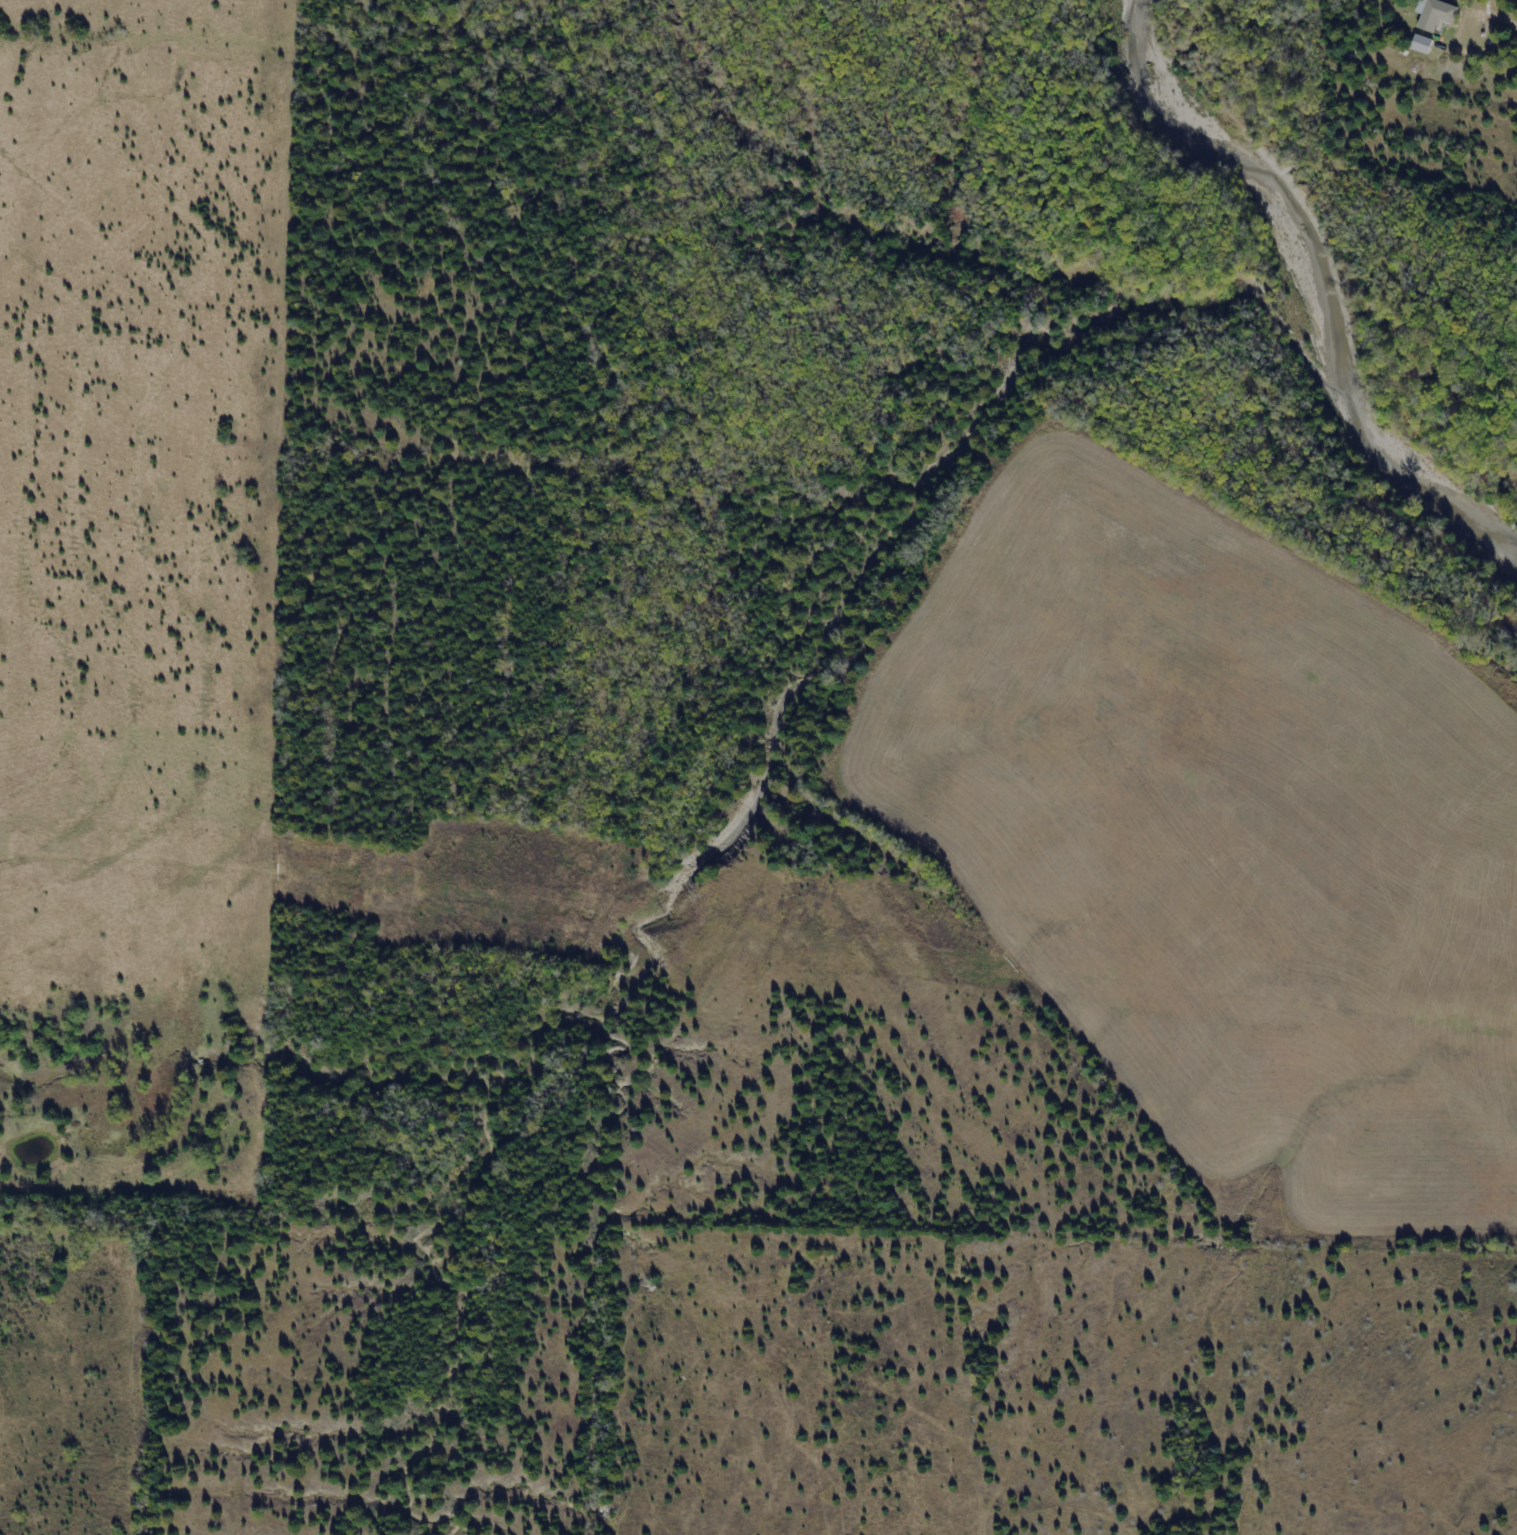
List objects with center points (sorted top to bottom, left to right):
building: (1439, 14)
building: (1425, 42)

